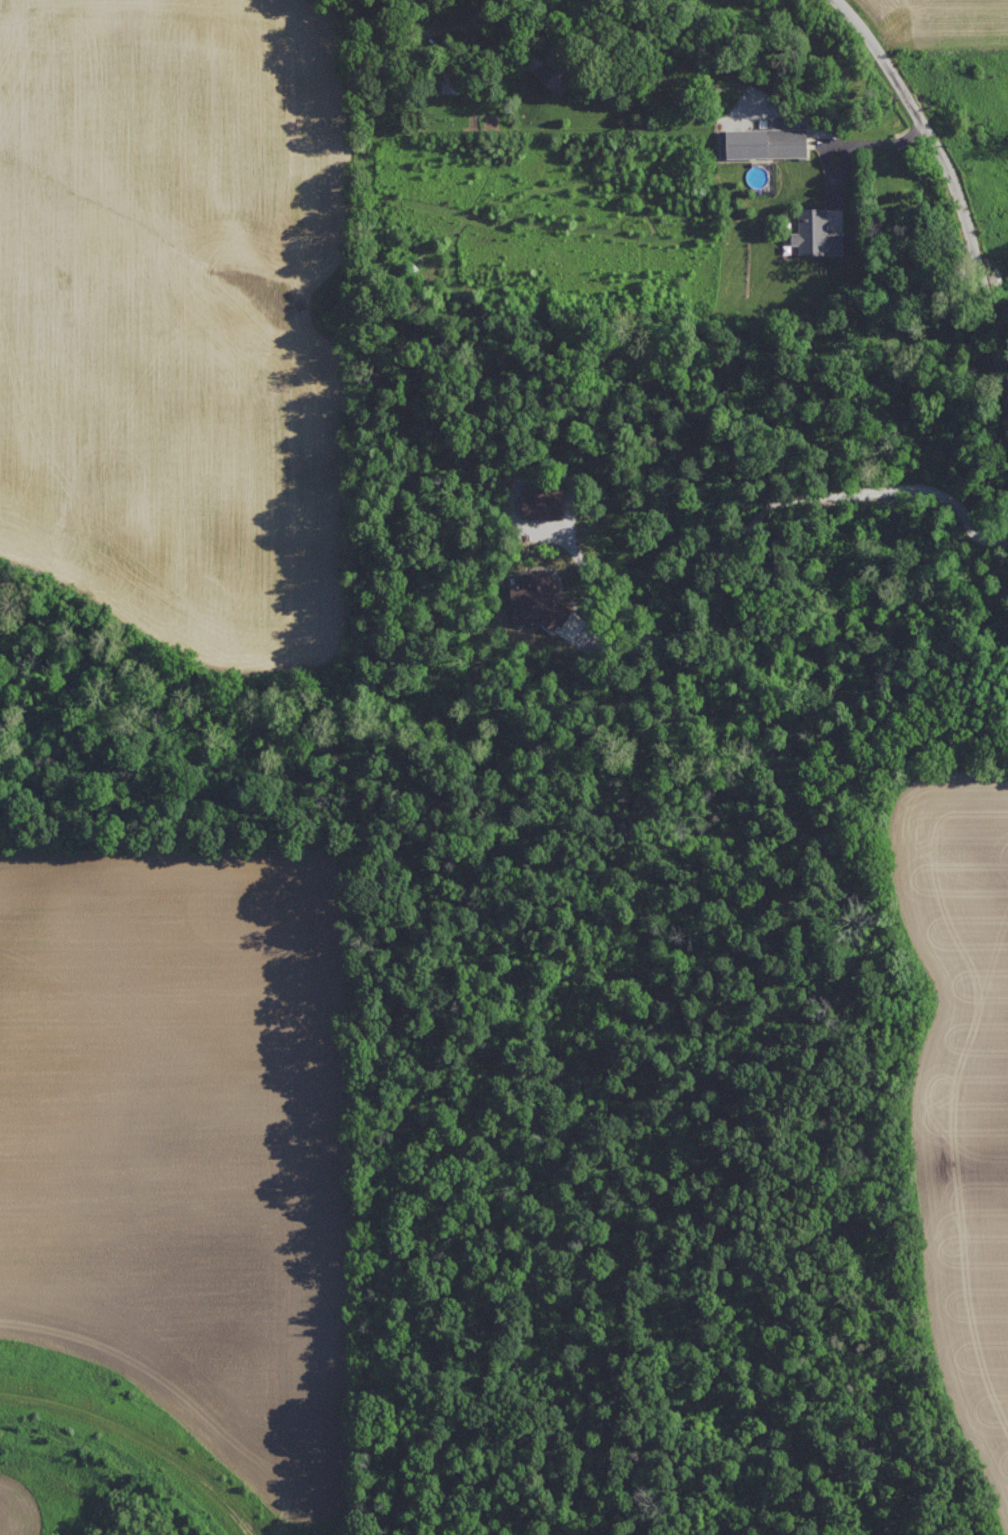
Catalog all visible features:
road: (458, 27)
building: (556, 73)
building: (765, 140)
road: (850, 144)
road: (958, 192)
building: (818, 233)
building: (544, 502)
building: (542, 603)

